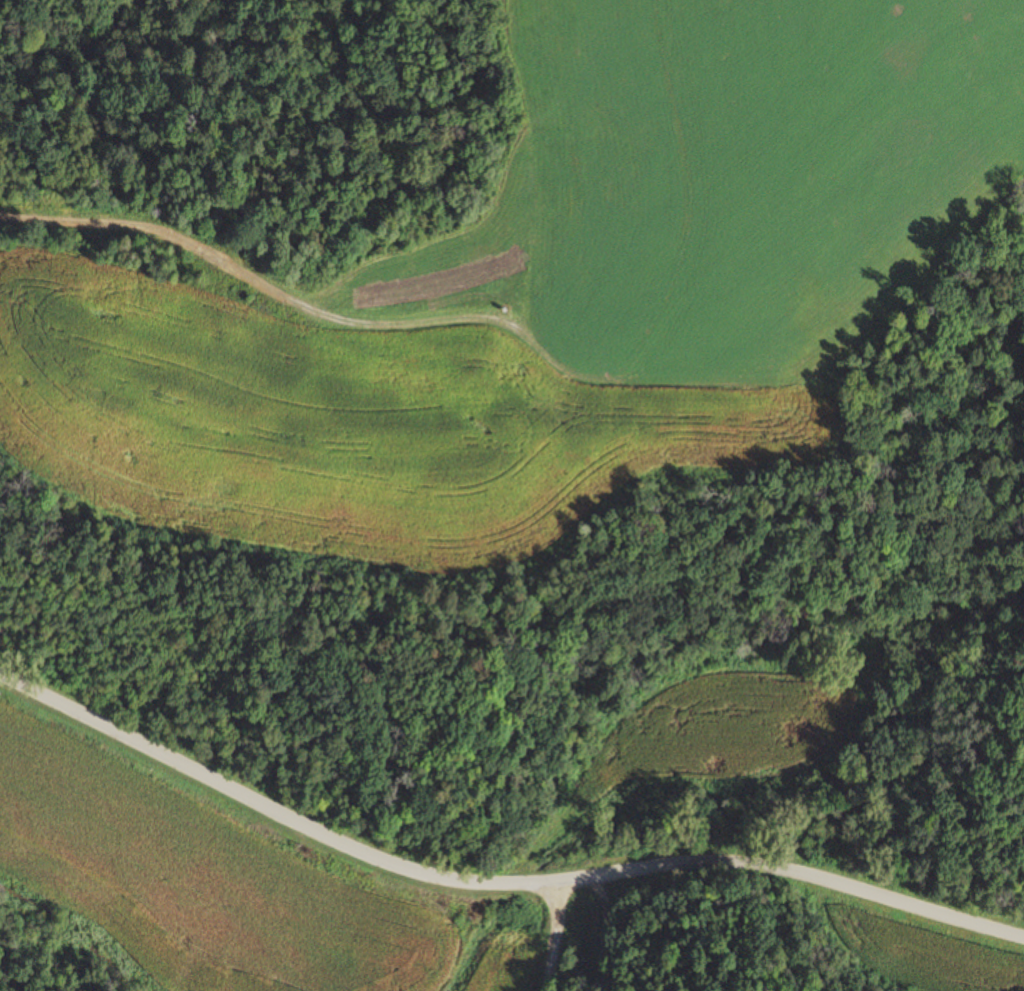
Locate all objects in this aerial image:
road: (492, 871)
road: (419, 939)

